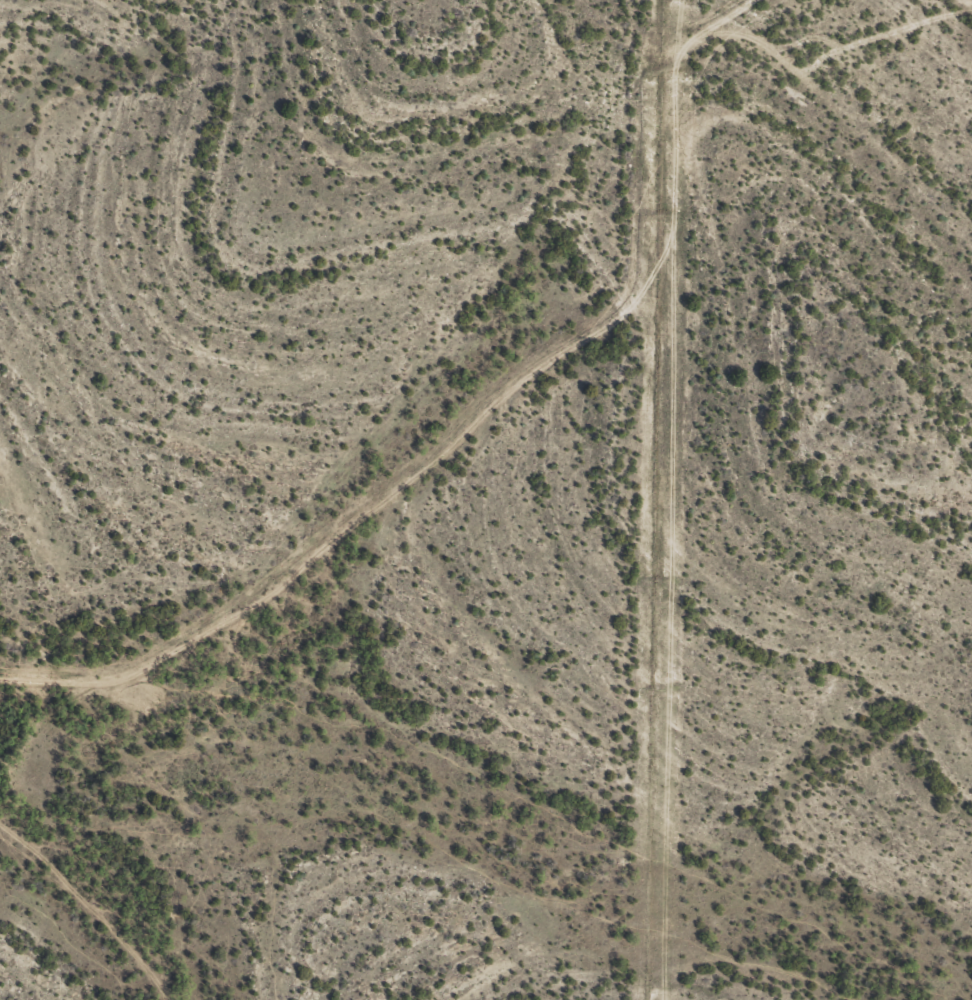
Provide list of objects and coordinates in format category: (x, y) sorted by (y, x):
road: (480, 457)

